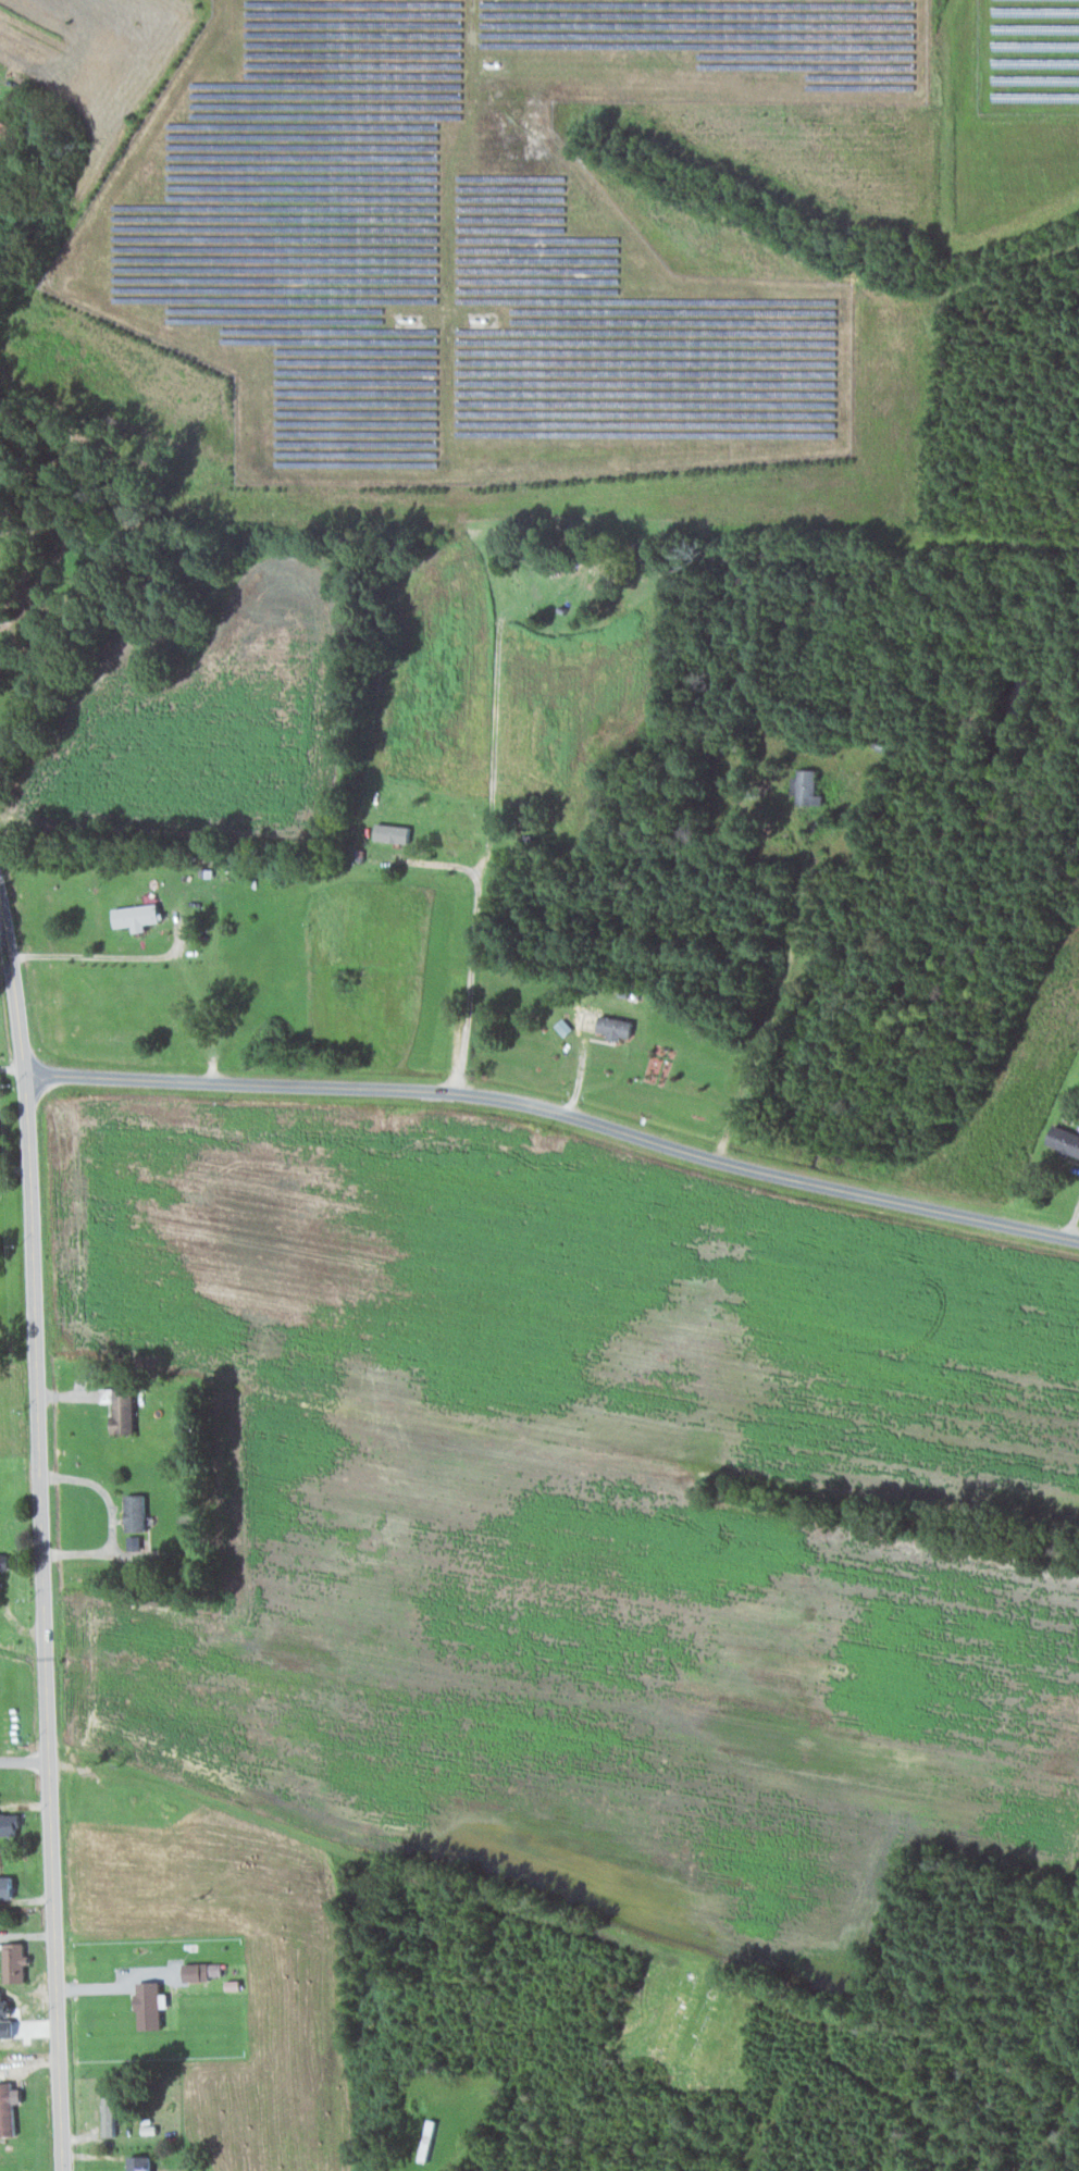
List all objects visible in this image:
crop: (94, 50)
solar farm: (472, 240)
building: (809, 786)
building: (394, 832)
building: (140, 916)
building: (617, 1026)
road: (558, 1111)
building: (1062, 1140)
building: (111, 1395)
building: (127, 1411)
building: (139, 1512)
road: (42, 1521)
building: (7, 1561)
road: (25, 1760)
building: (9, 1886)
building: (17, 1961)
building: (203, 1970)
building: (151, 2005)
building: (9, 2108)
building: (111, 2110)
building: (142, 2162)

